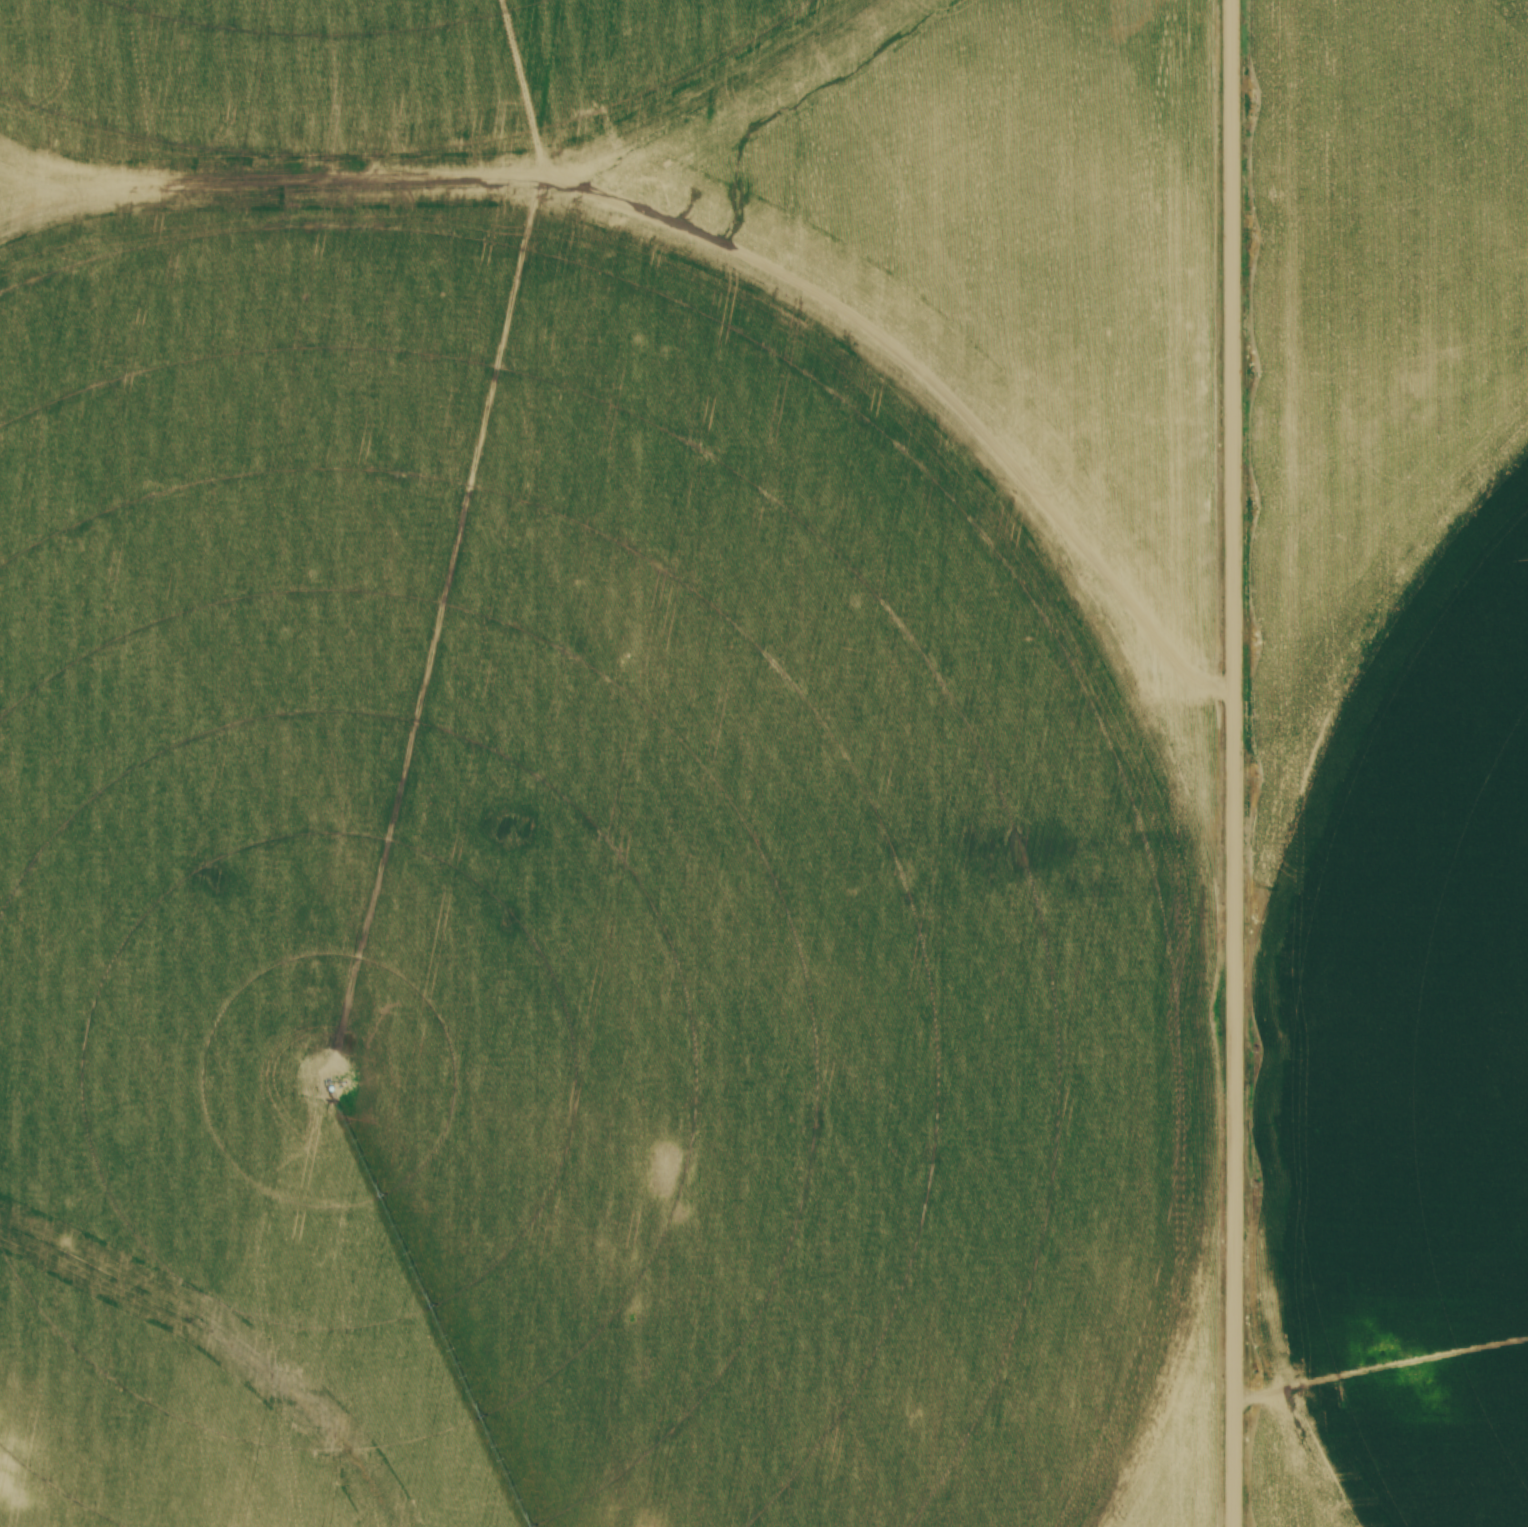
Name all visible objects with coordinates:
crop: (608, 763)
road: (1234, 763)
crop: (1391, 768)

